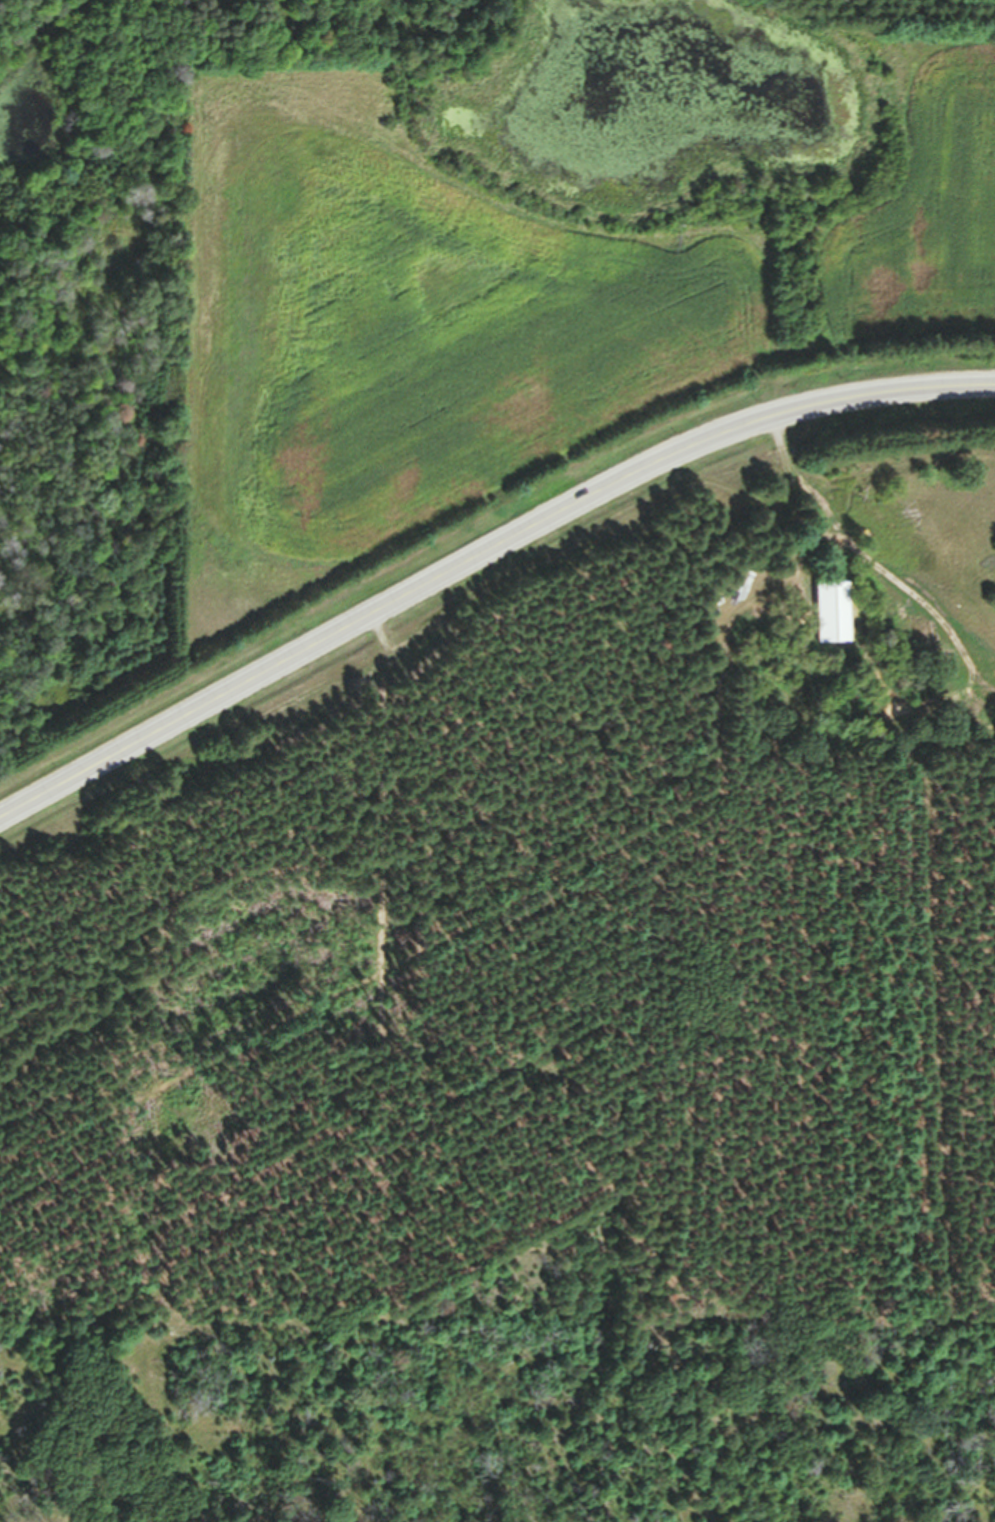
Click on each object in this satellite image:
road: (478, 539)

